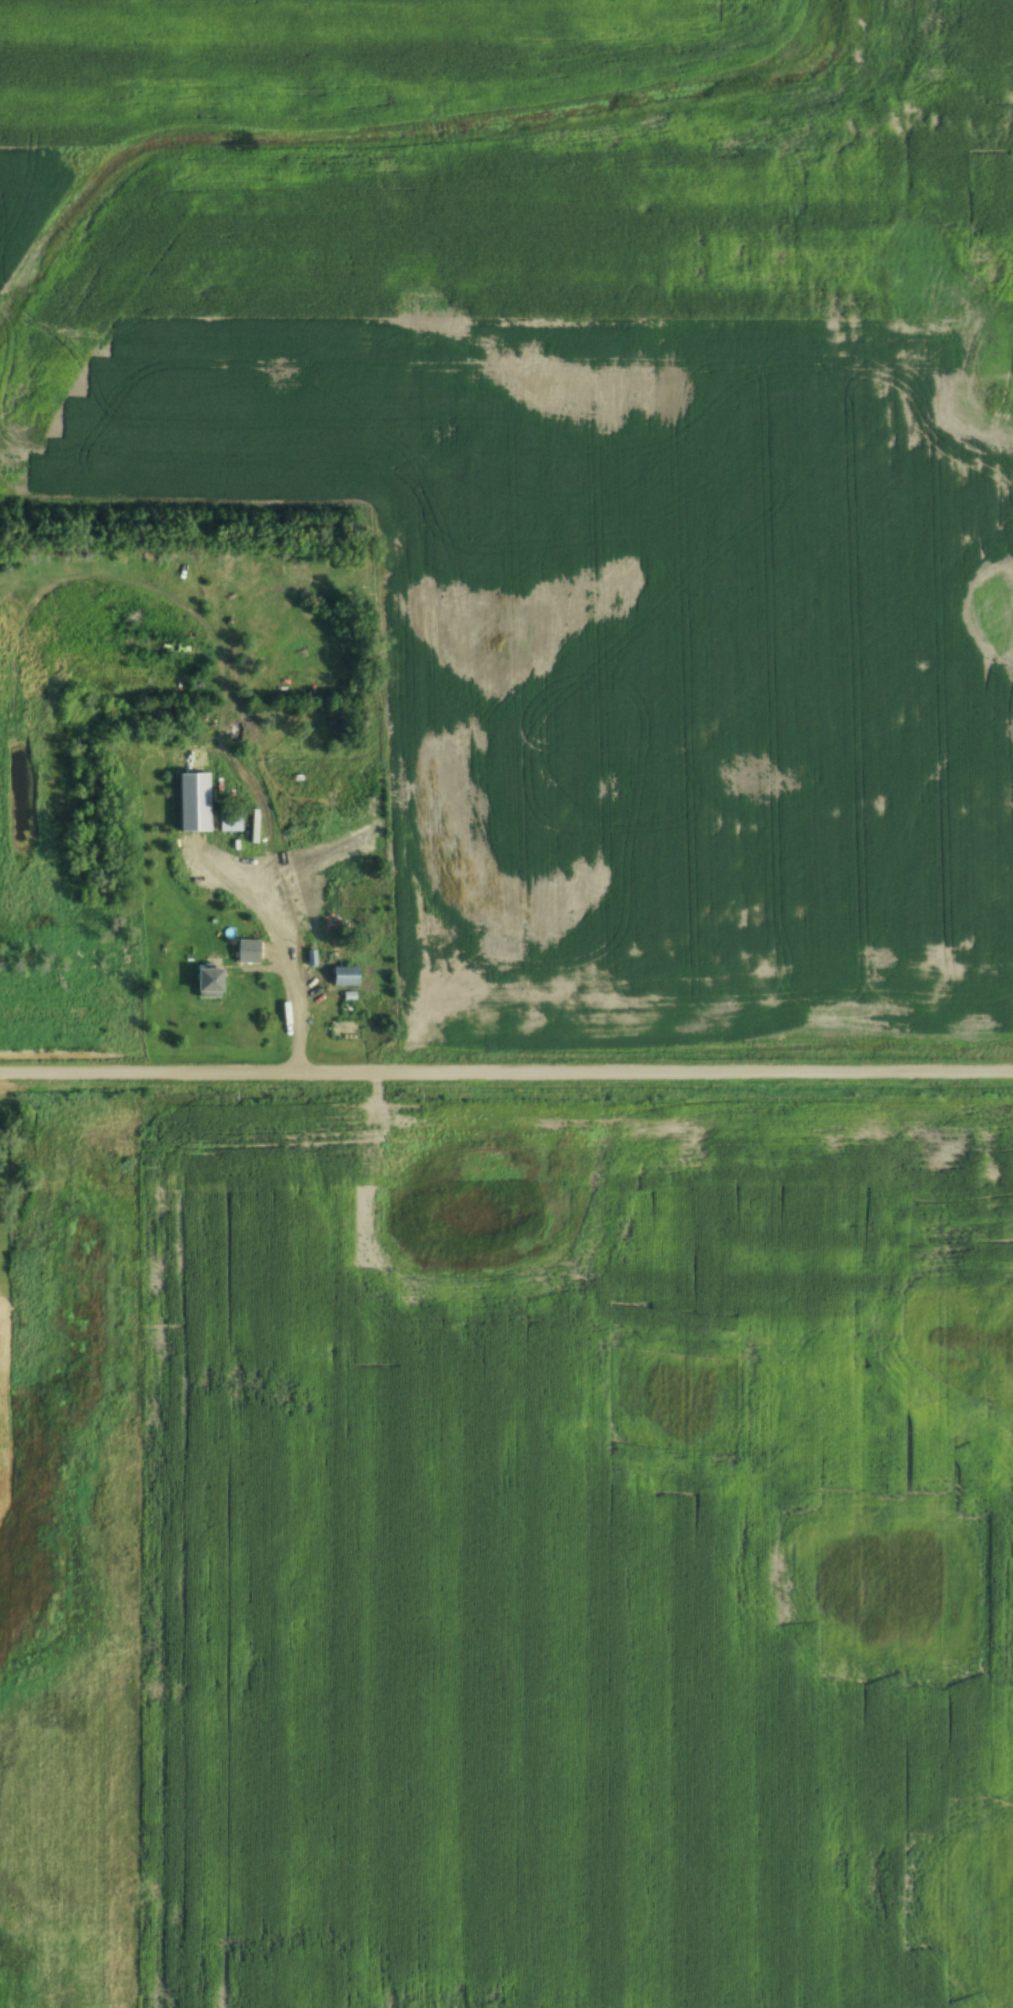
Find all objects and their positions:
building: (230, 821)
building: (303, 888)
building: (247, 952)
building: (344, 977)
building: (207, 984)
road: (295, 1007)
building: (344, 1030)
road: (506, 1071)
building: (145, 1154)

